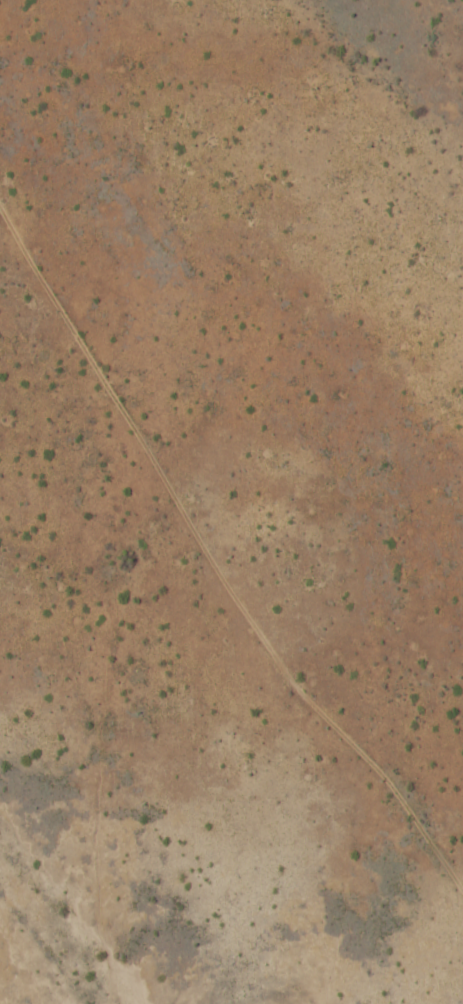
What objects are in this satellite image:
road: (231, 549)

